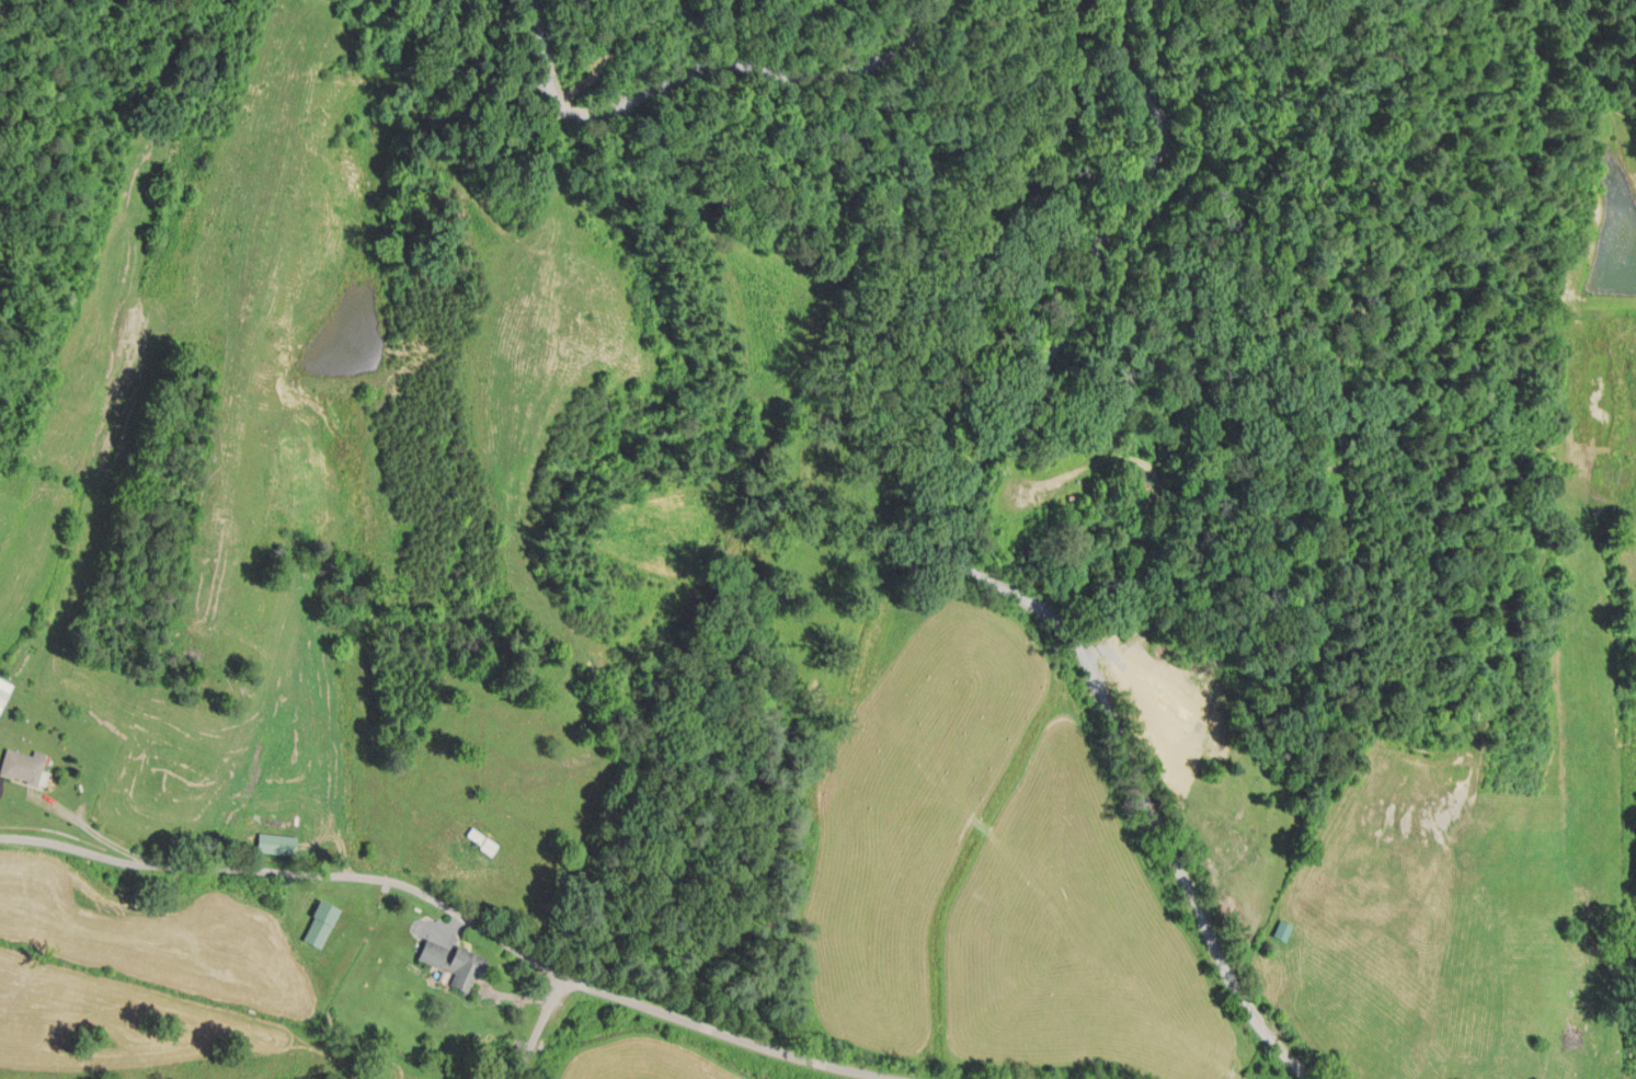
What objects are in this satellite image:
road: (615, 45)
road: (717, 67)
road: (972, 563)
building: (21, 766)
road: (85, 822)
building: (476, 841)
building: (272, 843)
road: (459, 915)
building: (317, 923)
road: (450, 927)
building: (1279, 930)
building: (430, 953)
building: (461, 969)
road: (514, 995)
road: (538, 1028)

